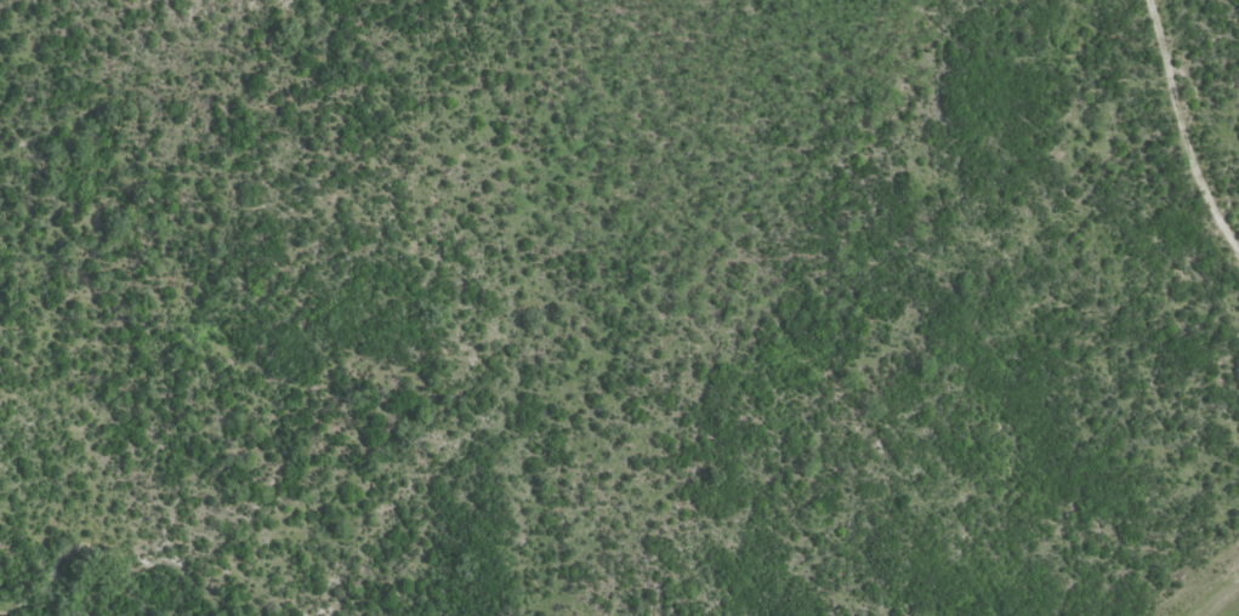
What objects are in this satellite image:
road: (1212, 593)

